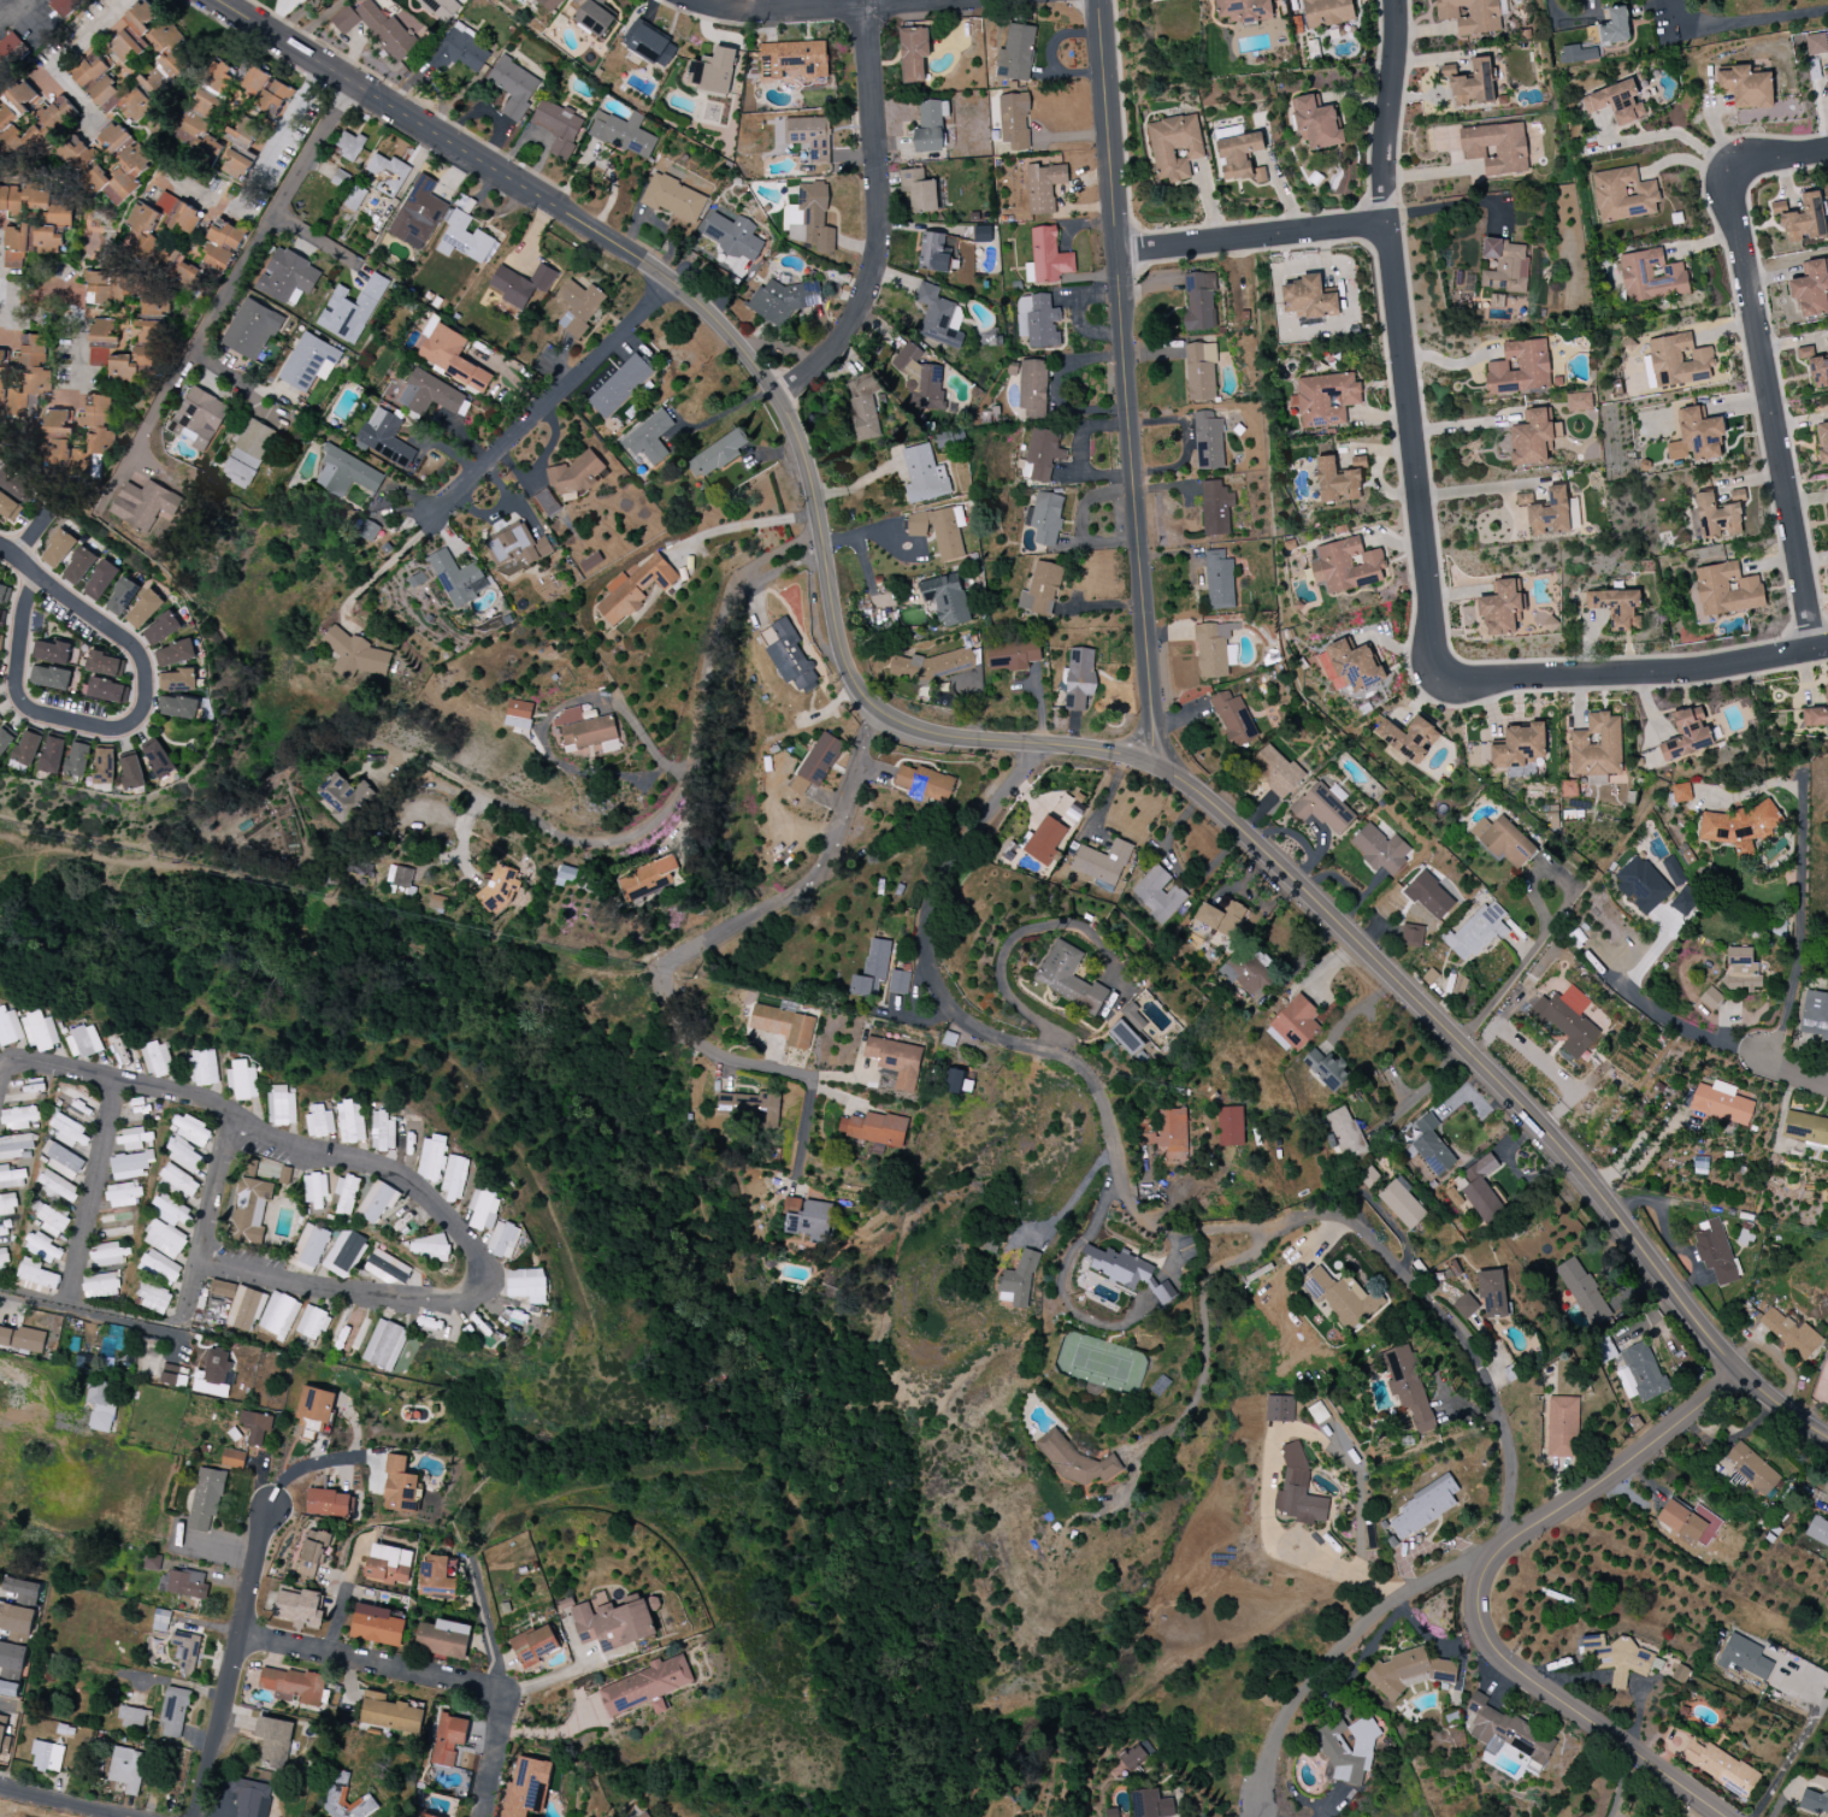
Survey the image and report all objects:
building: (550, 4)
road: (13, 6)
building: (64, 6)
building: (441, 8)
road: (827, 8)
building: (1244, 10)
building: (1326, 12)
building: (592, 16)
building: (1470, 16)
building: (1615, 26)
road: (1745, 26)
building: (376, 28)
building: (135, 29)
building: (1815, 45)
building: (653, 47)
building: (10, 51)
building: (460, 51)
building: (1015, 53)
building: (913, 54)
building: (1578, 54)
road: (57, 57)
building: (794, 59)
building: (1827, 60)
building: (88, 70)
building: (713, 71)
building: (219, 77)
building: (254, 82)
building: (1473, 84)
building: (513, 87)
building: (1746, 87)
building: (22, 98)
building: (273, 99)
building: (120, 100)
building: (1616, 104)
building: (205, 105)
road: (1385, 108)
building: (58, 114)
building: (1014, 120)
building: (1316, 123)
building: (559, 126)
building: (930, 126)
building: (11, 129)
building: (194, 130)
building: (244, 134)
building: (621, 134)
road: (1682, 134)
building: (810, 137)
building: (349, 146)
building: (1174, 147)
building: (1496, 148)
building: (212, 149)
building: (1240, 158)
building: (84, 164)
road: (263, 164)
building: (237, 165)
building: (388, 175)
building: (1044, 187)
building: (919, 190)
building: (1623, 195)
building: (674, 199)
building: (34, 203)
road: (1456, 206)
building: (178, 214)
building: (418, 214)
road: (879, 217)
building: (810, 218)
building: (1804, 220)
building: (142, 231)
building: (981, 234)
building: (733, 236)
building: (462, 238)
building: (29, 242)
road: (317, 242)
building: (934, 253)
building: (210, 258)
building: (1046, 258)
building: (1504, 265)
building: (287, 276)
building: (1651, 277)
building: (521, 283)
building: (102, 288)
building: (1811, 289)
road: (229, 290)
building: (1309, 299)
building: (784, 301)
building: (1197, 306)
building: (579, 307)
building: (352, 309)
road: (65, 313)
building: (938, 317)
building: (1037, 321)
building: (252, 330)
building: (104, 340)
building: (1827, 340)
building: (448, 354)
building: (1679, 361)
building: (4, 362)
building: (308, 362)
road: (1762, 364)
building: (1519, 367)
road: (219, 371)
building: (1201, 372)
building: (1818, 372)
building: (920, 379)
road: (1126, 384)
building: (620, 387)
building: (1033, 389)
building: (429, 394)
building: (1325, 400)
building: (1579, 402)
road: (558, 405)
building: (862, 407)
road: (720, 415)
building: (200, 418)
building: (58, 425)
building: (99, 435)
building: (384, 437)
building: (1697, 437)
building: (1533, 438)
building: (648, 439)
building: (1208, 442)
building: (1823, 442)
building: (249, 452)
building: (717, 455)
building: (1042, 455)
building: (346, 473)
building: (924, 474)
building: (573, 476)
building: (1338, 480)
building: (14, 483)
road: (1480, 490)
building: (547, 503)
building: (145, 505)
building: (8, 507)
building: (1827, 507)
building: (1215, 508)
road: (1420, 511)
building: (1550, 514)
building: (1717, 515)
building: (1044, 519)
road: (741, 525)
building: (368, 530)
building: (938, 531)
building: (517, 547)
building: (58, 549)
road: (16, 559)
building: (78, 566)
building: (1346, 566)
road: (383, 567)
road: (866, 573)
building: (458, 578)
building: (100, 580)
building: (1219, 580)
building: (635, 589)
building: (1040, 590)
building: (1727, 590)
building: (5, 592)
building: (122, 597)
building: (947, 600)
building: (1616, 608)
building: (143, 609)
building: (1502, 609)
building: (1, 618)
building: (160, 630)
building: (0, 642)
building: (1214, 650)
building: (52, 651)
building: (175, 654)
building: (356, 655)
building: (788, 655)
building: (1012, 656)
building: (105, 665)
building: (931, 665)
building: (1350, 666)
building: (51, 678)
building: (1079, 678)
building: (177, 682)
building: (107, 691)
building: (179, 707)
building: (519, 714)
building: (1815, 715)
building: (1233, 719)
building: (0, 721)
road: (114, 728)
building: (586, 731)
building: (1686, 735)
building: (5, 738)
road: (978, 741)
building: (1410, 741)
building: (1520, 747)
building: (1597, 747)
building: (25, 749)
building: (51, 755)
building: (77, 760)
building: (159, 760)
building: (818, 763)
building: (104, 766)
building: (1275, 769)
building: (131, 772)
building: (925, 784)
road: (1757, 787)
building: (1569, 789)
building: (1681, 792)
building: (346, 797)
road: (667, 804)
building: (1322, 808)
building: (1068, 809)
building: (1738, 825)
building: (1045, 840)
building: (1503, 840)
building: (1380, 849)
building: (1102, 862)
building: (567, 874)
building: (400, 877)
road: (222, 879)
building: (648, 879)
building: (1641, 885)
building: (500, 889)
building: (1158, 893)
building: (1682, 896)
building: (1429, 897)
building: (1222, 919)
road: (1798, 926)
road: (1546, 928)
building: (1475, 932)
building: (1411, 936)
road: (1004, 950)
road: (685, 954)
building: (872, 969)
building: (1741, 971)
building: (1245, 973)
building: (1069, 978)
building: (898, 981)
road: (943, 992)
building: (1710, 998)
building: (1815, 1015)
building: (1133, 1016)
building: (1567, 1020)
building: (1293, 1025)
building: (784, 1026)
building: (10, 1027)
road: (1682, 1028)
building: (41, 1032)
building: (1126, 1038)
building: (83, 1042)
building: (157, 1060)
building: (896, 1061)
building: (204, 1067)
building: (1326, 1069)
road: (7, 1073)
road: (1788, 1074)
building: (242, 1080)
building: (959, 1082)
road: (1428, 1089)
building: (1721, 1103)
building: (282, 1105)
building: (753, 1105)
building: (18, 1117)
building: (319, 1122)
building: (350, 1122)
building: (1230, 1126)
building: (1805, 1128)
building: (191, 1131)
building: (875, 1131)
building: (1166, 1131)
building: (70, 1132)
building: (382, 1132)
building: (1345, 1133)
building: (135, 1139)
building: (1428, 1144)
building: (16, 1145)
building: (184, 1156)
building: (431, 1158)
building: (63, 1161)
building: (130, 1166)
building: (250, 1168)
building: (11, 1178)
building: (454, 1178)
building: (179, 1180)
road: (412, 1184)
building: (58, 1186)
building: (1481, 1188)
road: (98, 1191)
building: (316, 1191)
building: (346, 1193)
building: (122, 1194)
road: (1078, 1194)
building: (376, 1203)
building: (1402, 1204)
building: (7, 1205)
building: (483, 1209)
building: (170, 1210)
building: (250, 1210)
building: (808, 1220)
building: (53, 1221)
road: (210, 1221)
road: (1205, 1229)
building: (165, 1239)
building: (503, 1240)
building: (309, 1245)
building: (41, 1247)
building: (429, 1249)
building: (1715, 1252)
building: (343, 1253)
building: (108, 1255)
building: (4, 1261)
building: (160, 1268)
building: (385, 1268)
road: (1062, 1272)
building: (1127, 1272)
building: (36, 1278)
building: (1019, 1280)
building: (100, 1285)
building: (527, 1285)
building: (1585, 1292)
building: (1492, 1293)
building: (1339, 1297)
building: (154, 1298)
building: (238, 1304)
road: (93, 1306)
building: (1464, 1306)
building: (278, 1315)
building: (312, 1323)
building: (1791, 1333)
building: (22, 1339)
road: (1203, 1344)
building: (384, 1345)
road: (1466, 1346)
building: (1640, 1373)
building: (173, 1375)
road: (851, 1379)
building: (1407, 1386)
building: (101, 1404)
building: (1279, 1409)
building: (313, 1410)
building: (1562, 1427)
building: (256, 1428)
road: (1269, 1450)
building: (232, 1459)
building: (1074, 1462)
road: (309, 1465)
building: (1751, 1469)
building: (399, 1486)
building: (1298, 1489)
building: (206, 1500)
building: (328, 1503)
building: (1425, 1506)
building: (1681, 1522)
building: (1817, 1532)
building: (313, 1555)
building: (152, 1563)
building: (388, 1564)
building: (436, 1576)
building: (182, 1582)
road: (1478, 1591)
building: (302, 1607)
building: (20, 1609)
building: (161, 1621)
building: (612, 1623)
road: (487, 1624)
building: (376, 1626)
building: (443, 1639)
building: (536, 1645)
building: (187, 1651)
road: (1334, 1652)
building: (1744, 1657)
building: (12, 1658)
building: (1617, 1659)
road: (232, 1662)
building: (1408, 1673)
road: (430, 1675)
road: (549, 1677)
building: (647, 1687)
building: (8, 1689)
road: (8, 1706)
building: (173, 1713)
building: (390, 1713)
building: (131, 1717)
building: (1506, 1730)
building: (4, 1736)
building: (448, 1739)
park: (829, 1739)
building: (273, 1742)
road: (1798, 1747)
building: (1346, 1748)
building: (47, 1757)
building: (1133, 1757)
building: (1718, 1766)
building: (126, 1769)
road: (1622, 1783)
building: (526, 1788)
building: (250, 1798)
building: (336, 1798)
road: (65, 1801)
building: (1814, 1801)
building: (1151, 1804)
building: (1111, 1812)
building: (647, 1813)
building: (424, 1816)

